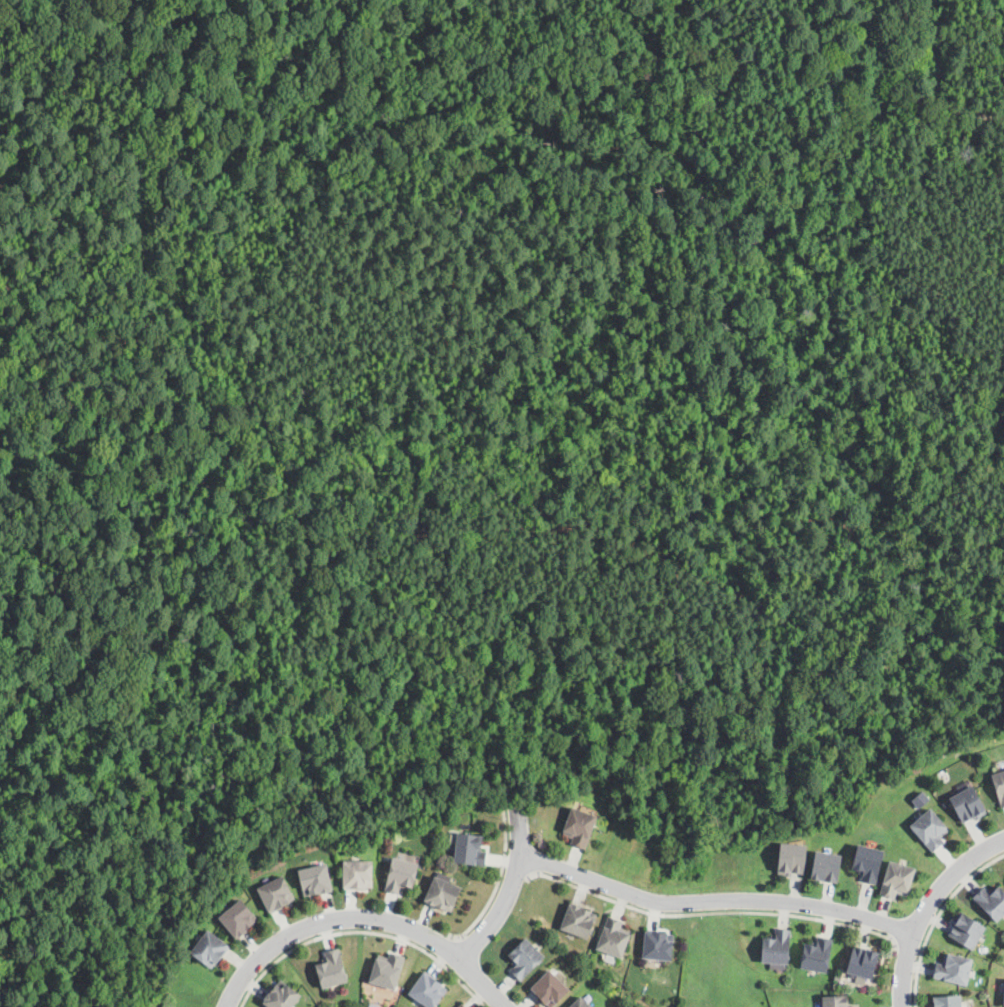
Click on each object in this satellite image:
building: (999, 785)
building: (546, 796)
building: (968, 804)
building: (579, 826)
building: (930, 828)
building: (469, 849)
building: (792, 857)
building: (868, 861)
building: (827, 865)
road: (515, 868)
building: (358, 873)
building: (401, 874)
building: (897, 878)
building: (315, 879)
road: (496, 883)
road: (508, 890)
building: (276, 893)
building: (443, 893)
road: (953, 893)
building: (991, 901)
road: (714, 902)
road: (927, 907)
road: (711, 912)
building: (238, 916)
road: (362, 918)
building: (579, 919)
building: (966, 929)
road: (361, 931)
building: (614, 936)
building: (659, 944)
road: (907, 946)
building: (777, 947)
building: (209, 948)
road: (444, 948)
building: (817, 953)
building: (525, 957)
building: (863, 961)
building: (332, 968)
building: (954, 969)
building: (387, 970)
road: (915, 978)
building: (550, 988)
building: (428, 989)
building: (282, 996)
building: (836, 1000)
building: (947, 1000)
building: (1003, 1002)
building: (581, 1003)
building: (462, 1005)

